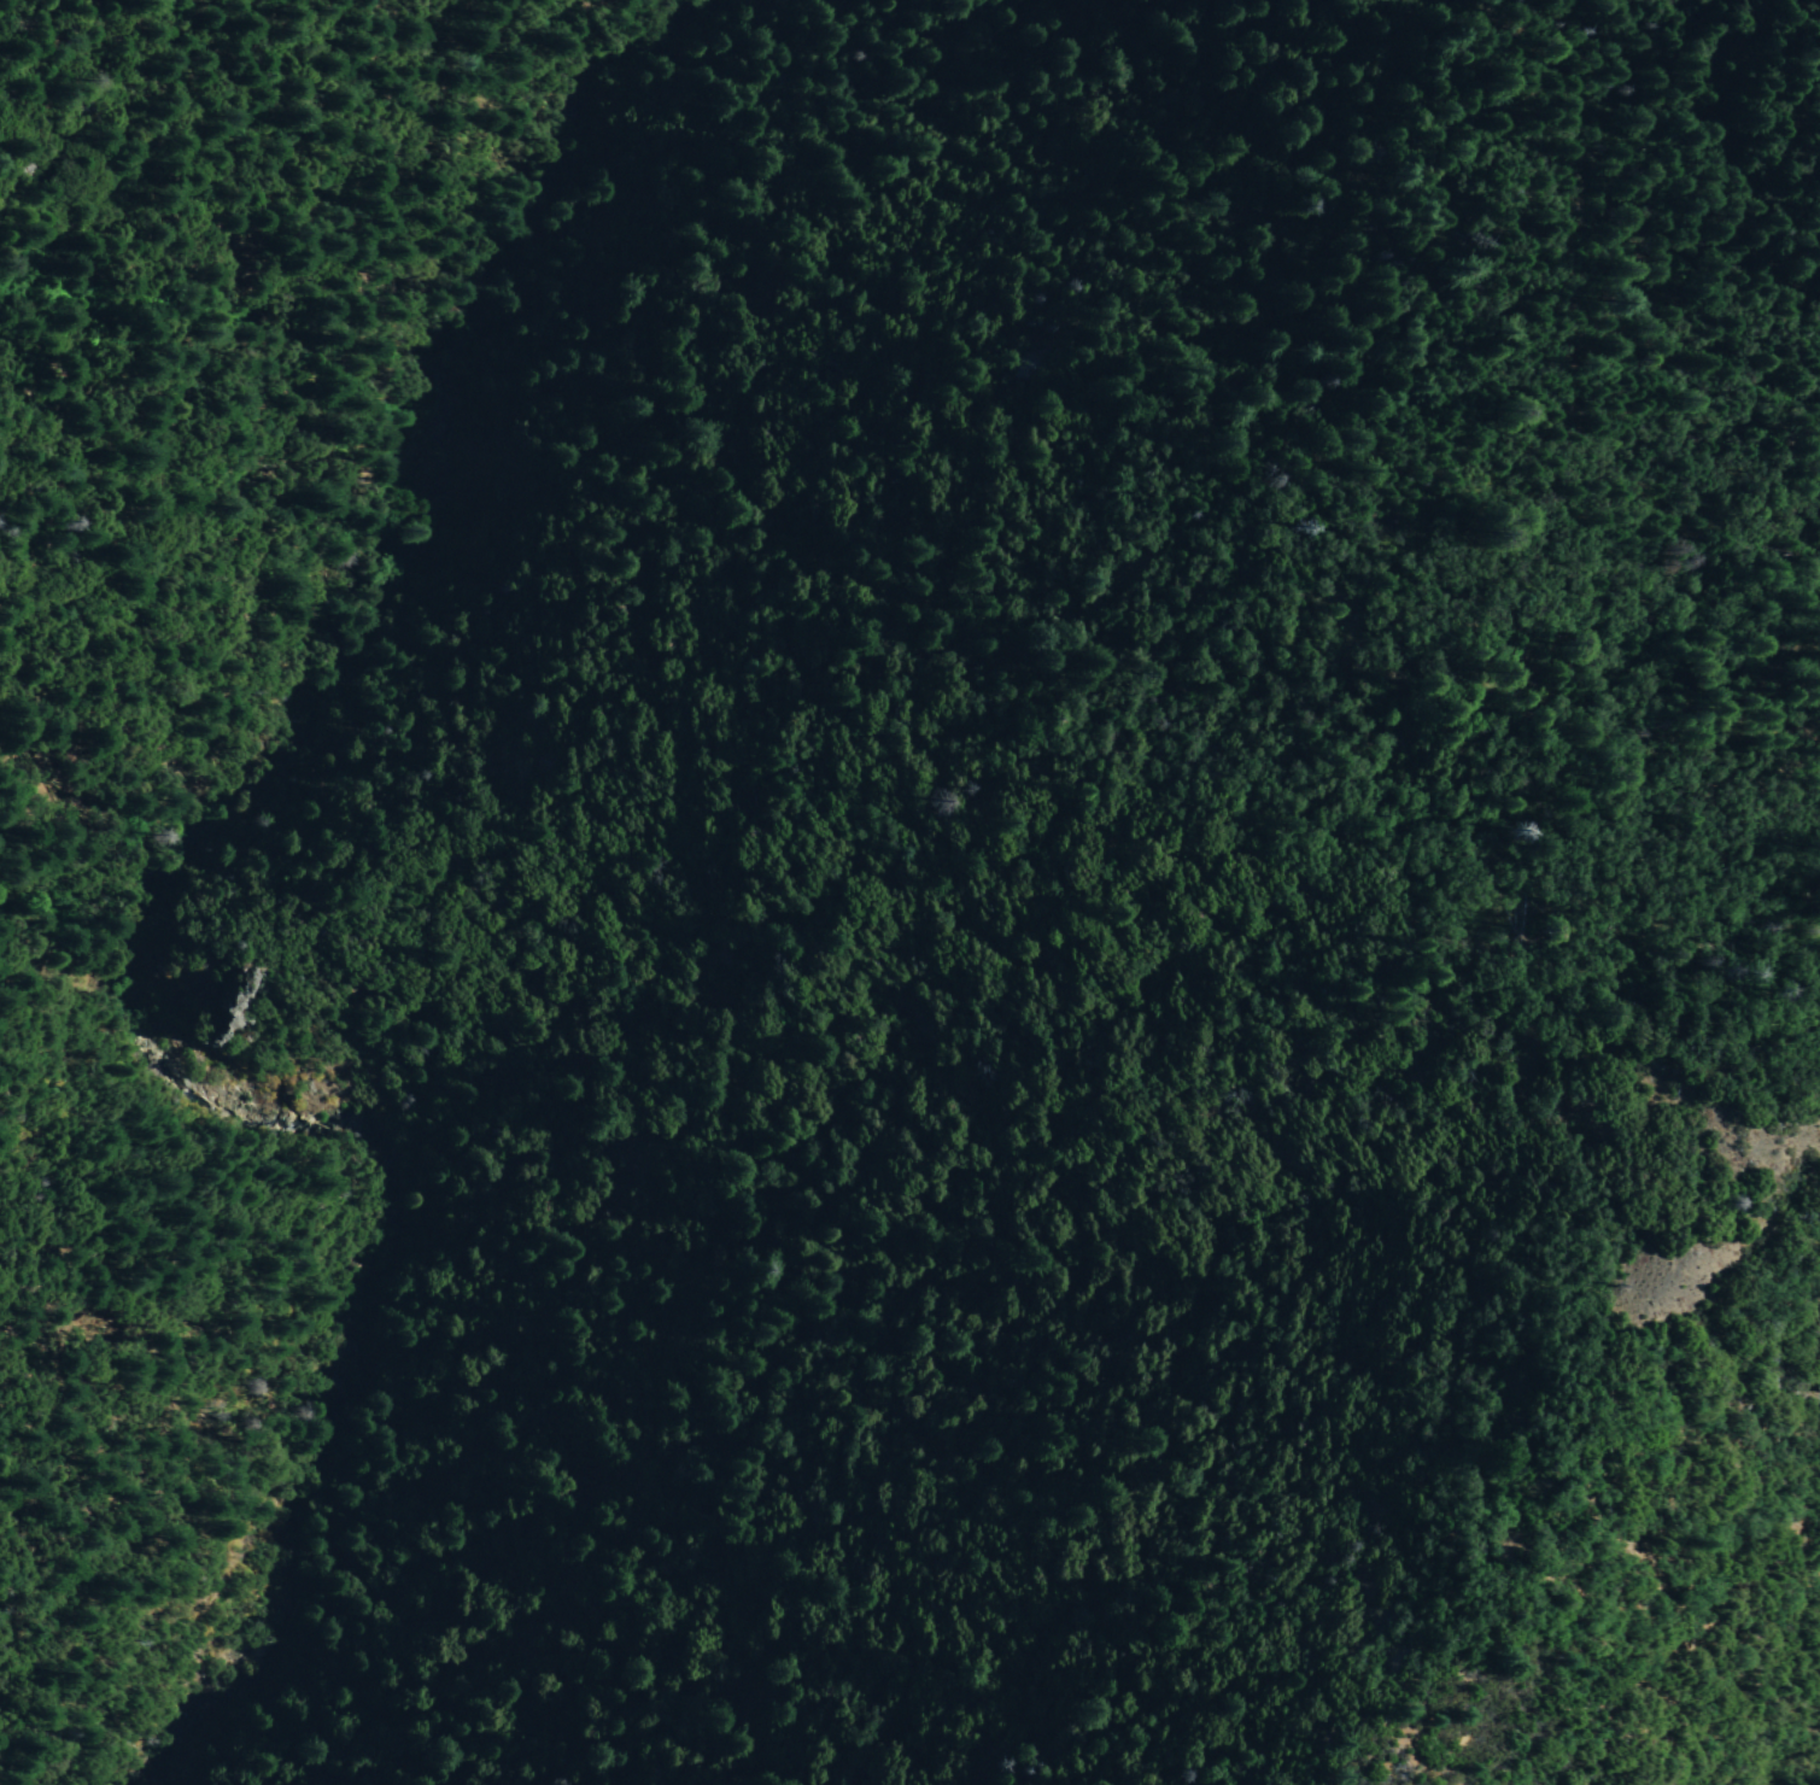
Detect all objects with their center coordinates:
park: (964, 707)
park: (707, 814)
road: (123, 899)
park: (1385, 1210)
park: (1037, 1509)

